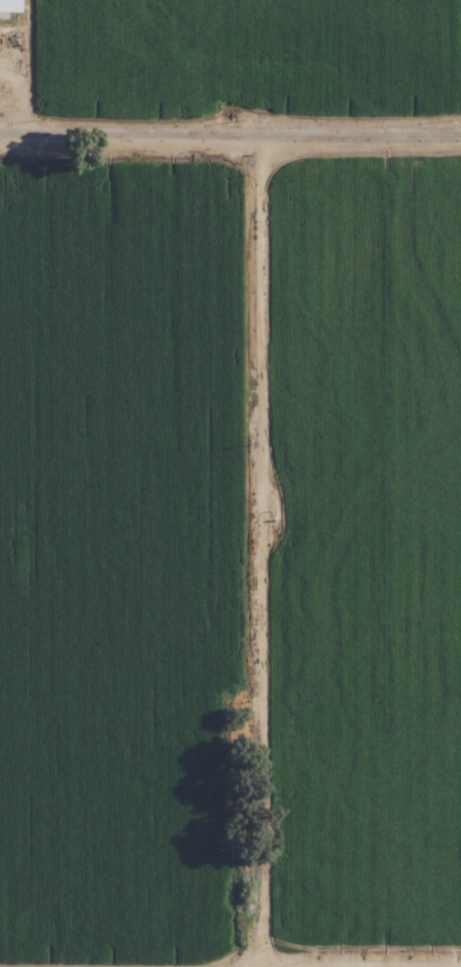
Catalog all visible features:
crop: (230, 53)
road: (230, 131)
crop: (230, 555)
crop: (393, 966)

